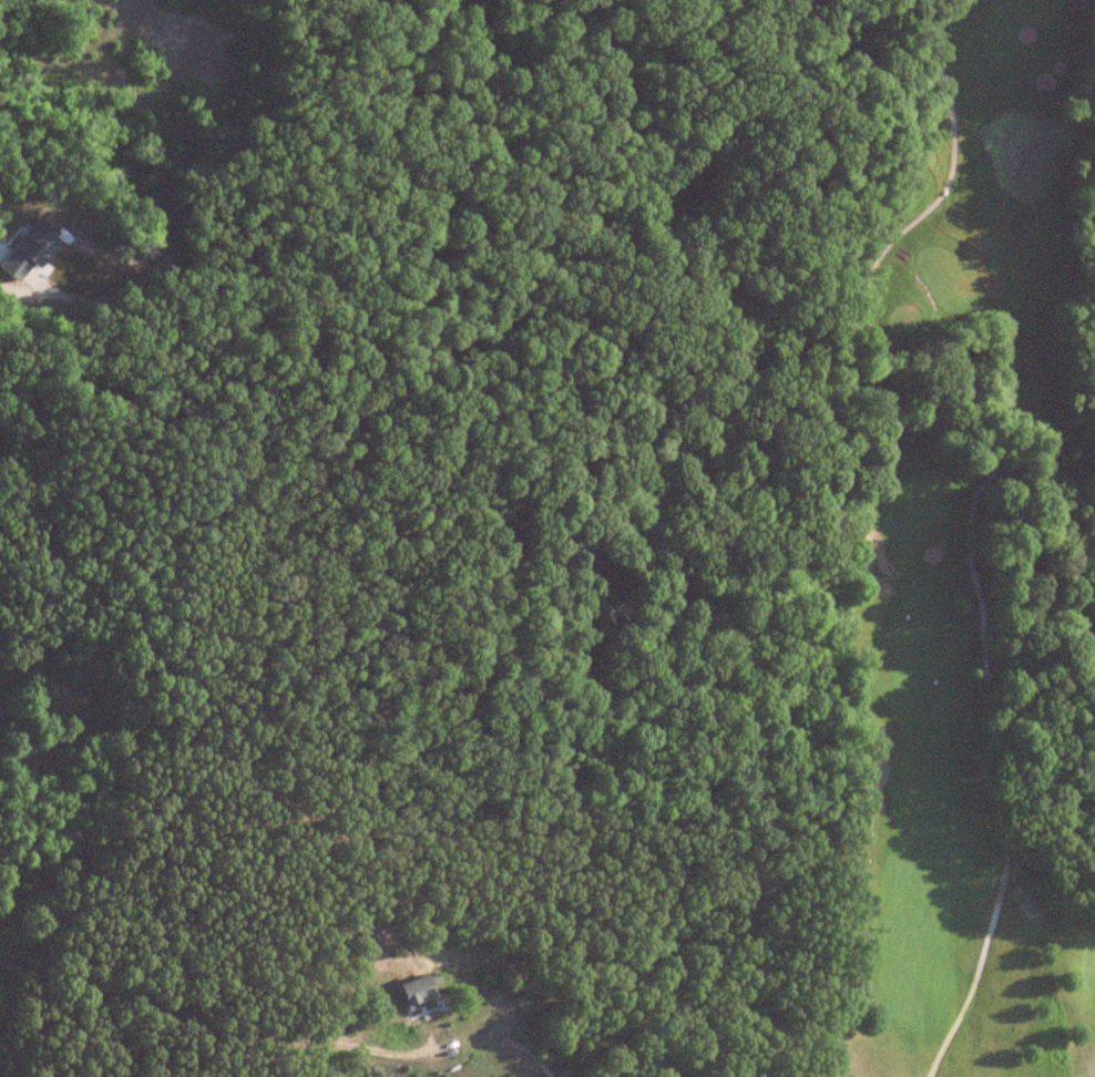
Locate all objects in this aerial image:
park: (940, 529)
building: (412, 995)
road: (203, 1026)

